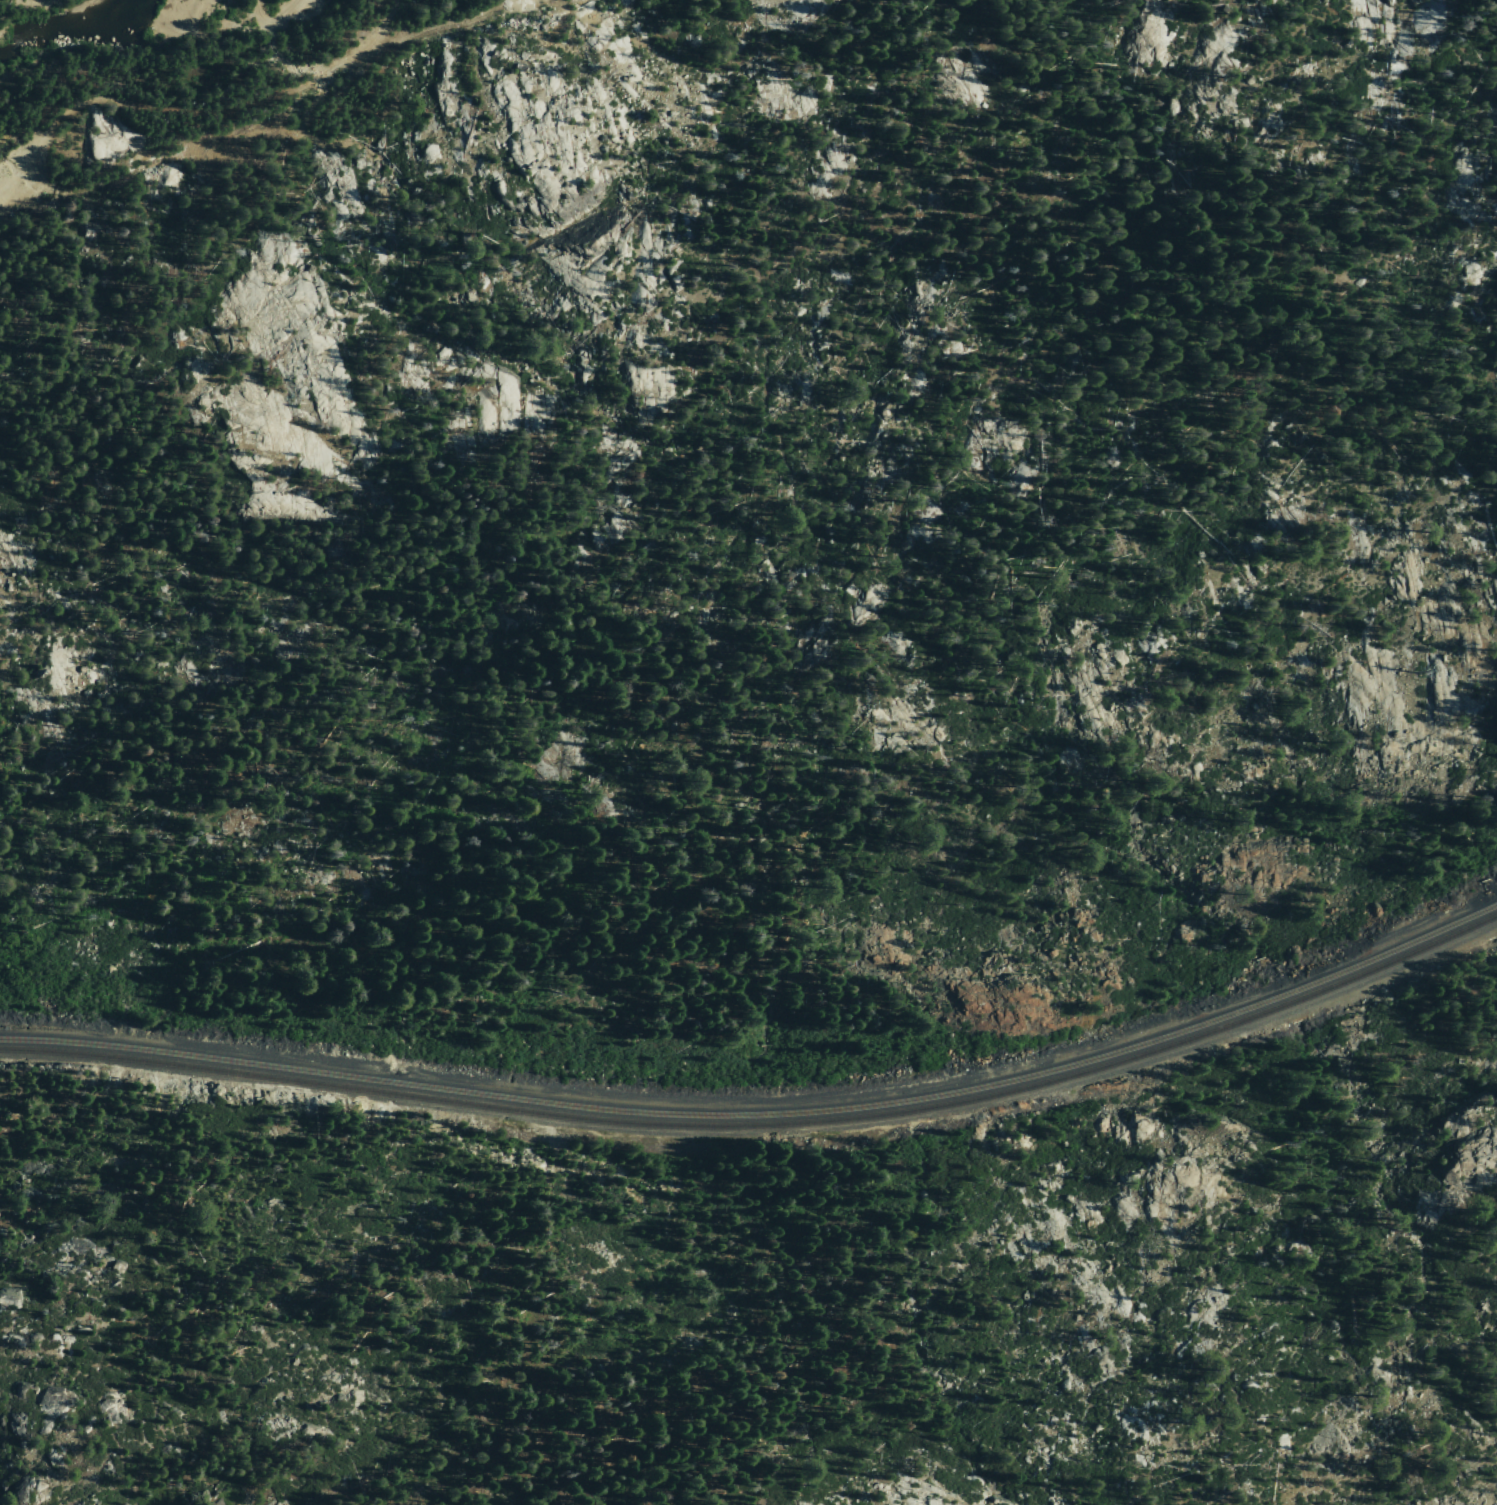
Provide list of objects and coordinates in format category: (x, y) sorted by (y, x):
road: (263, 96)
road: (13, 175)
railway: (763, 1119)
railway: (763, 1131)

